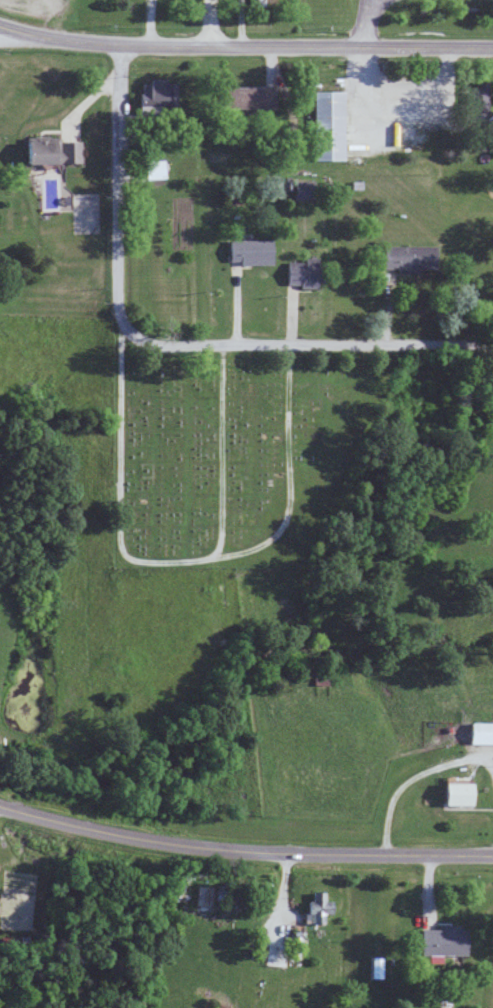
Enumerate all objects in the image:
road: (210, 22)
road: (4, 31)
road: (245, 44)
building: (154, 94)
building: (245, 97)
building: (475, 102)
building: (326, 125)
building: (48, 150)
building: (153, 169)
building: (276, 188)
building: (299, 189)
building: (248, 251)
building: (408, 257)
building: (302, 272)
road: (165, 341)
park: (242, 451)
building: (480, 733)
road: (418, 773)
building: (455, 792)
road: (244, 850)
building: (204, 895)
building: (316, 908)
building: (441, 941)
building: (374, 967)

